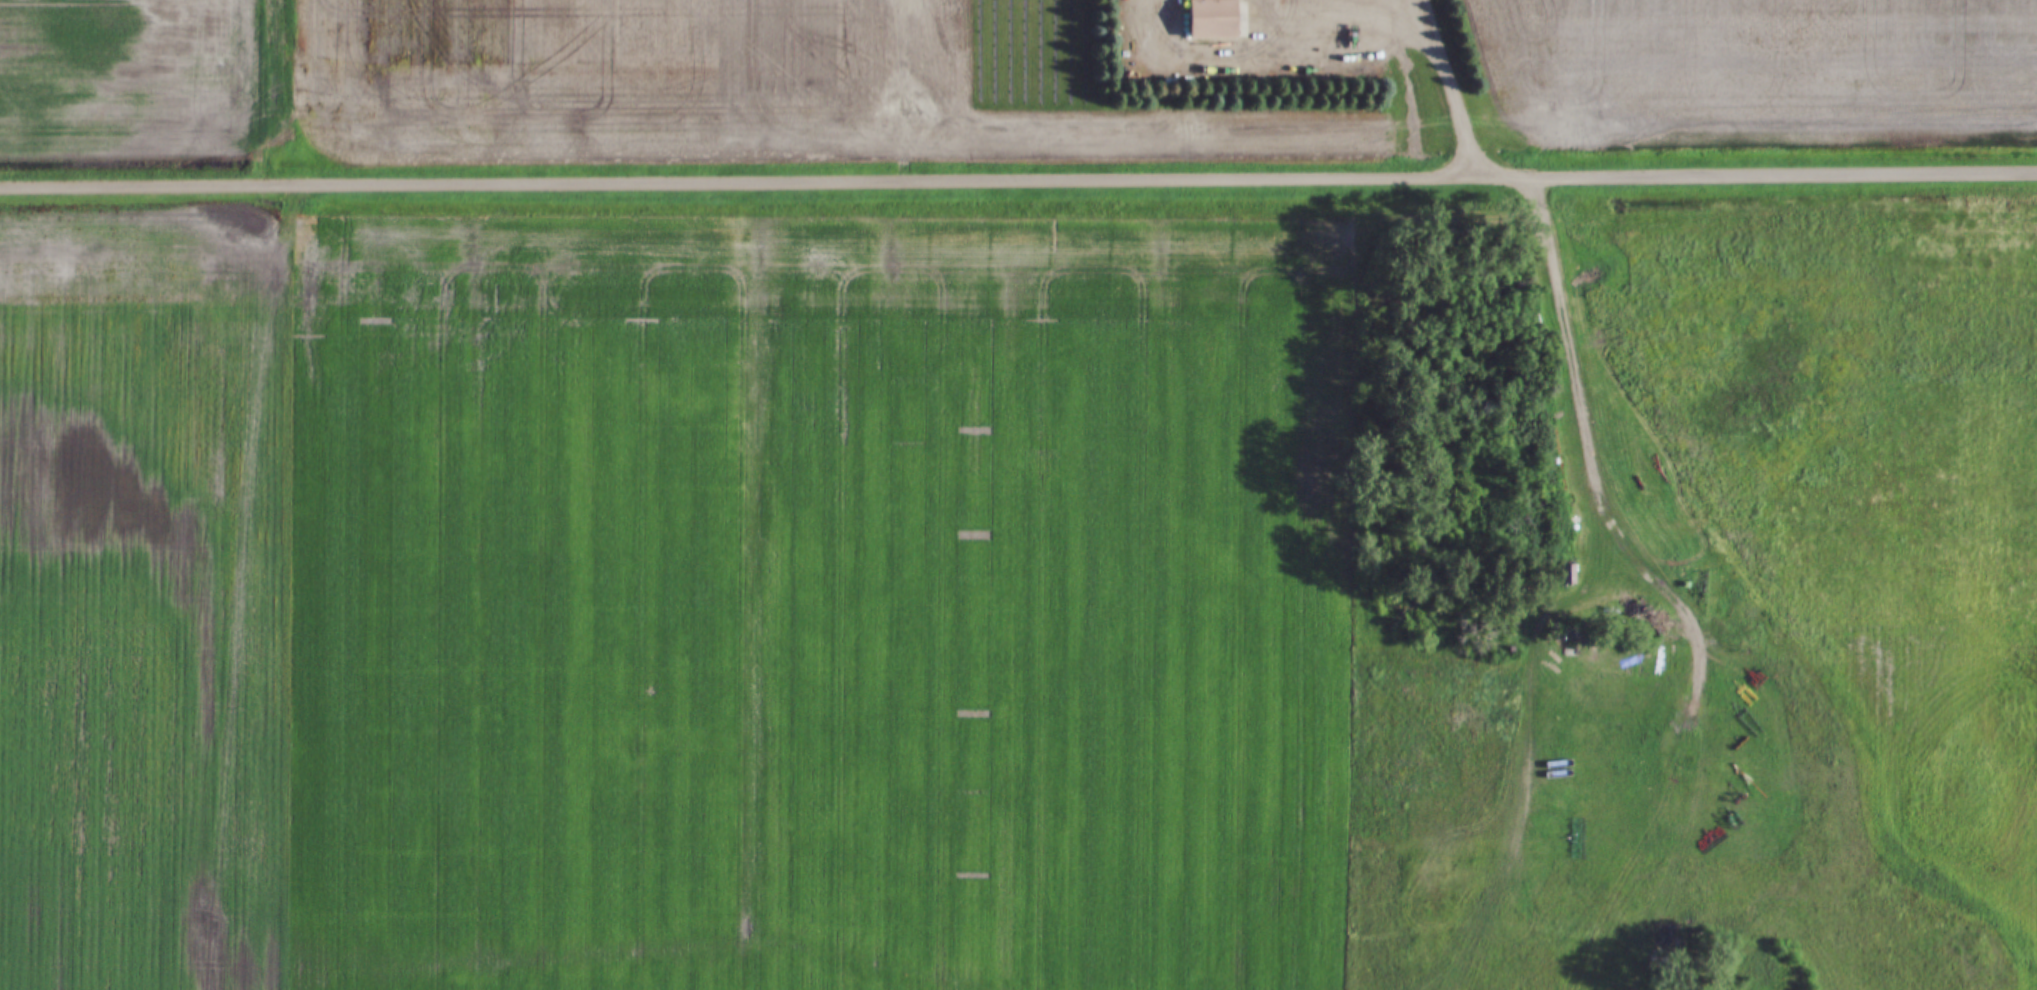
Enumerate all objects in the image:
building: (1206, 19)
road: (1453, 82)
road: (261, 92)
road: (1018, 179)
building: (1566, 574)

